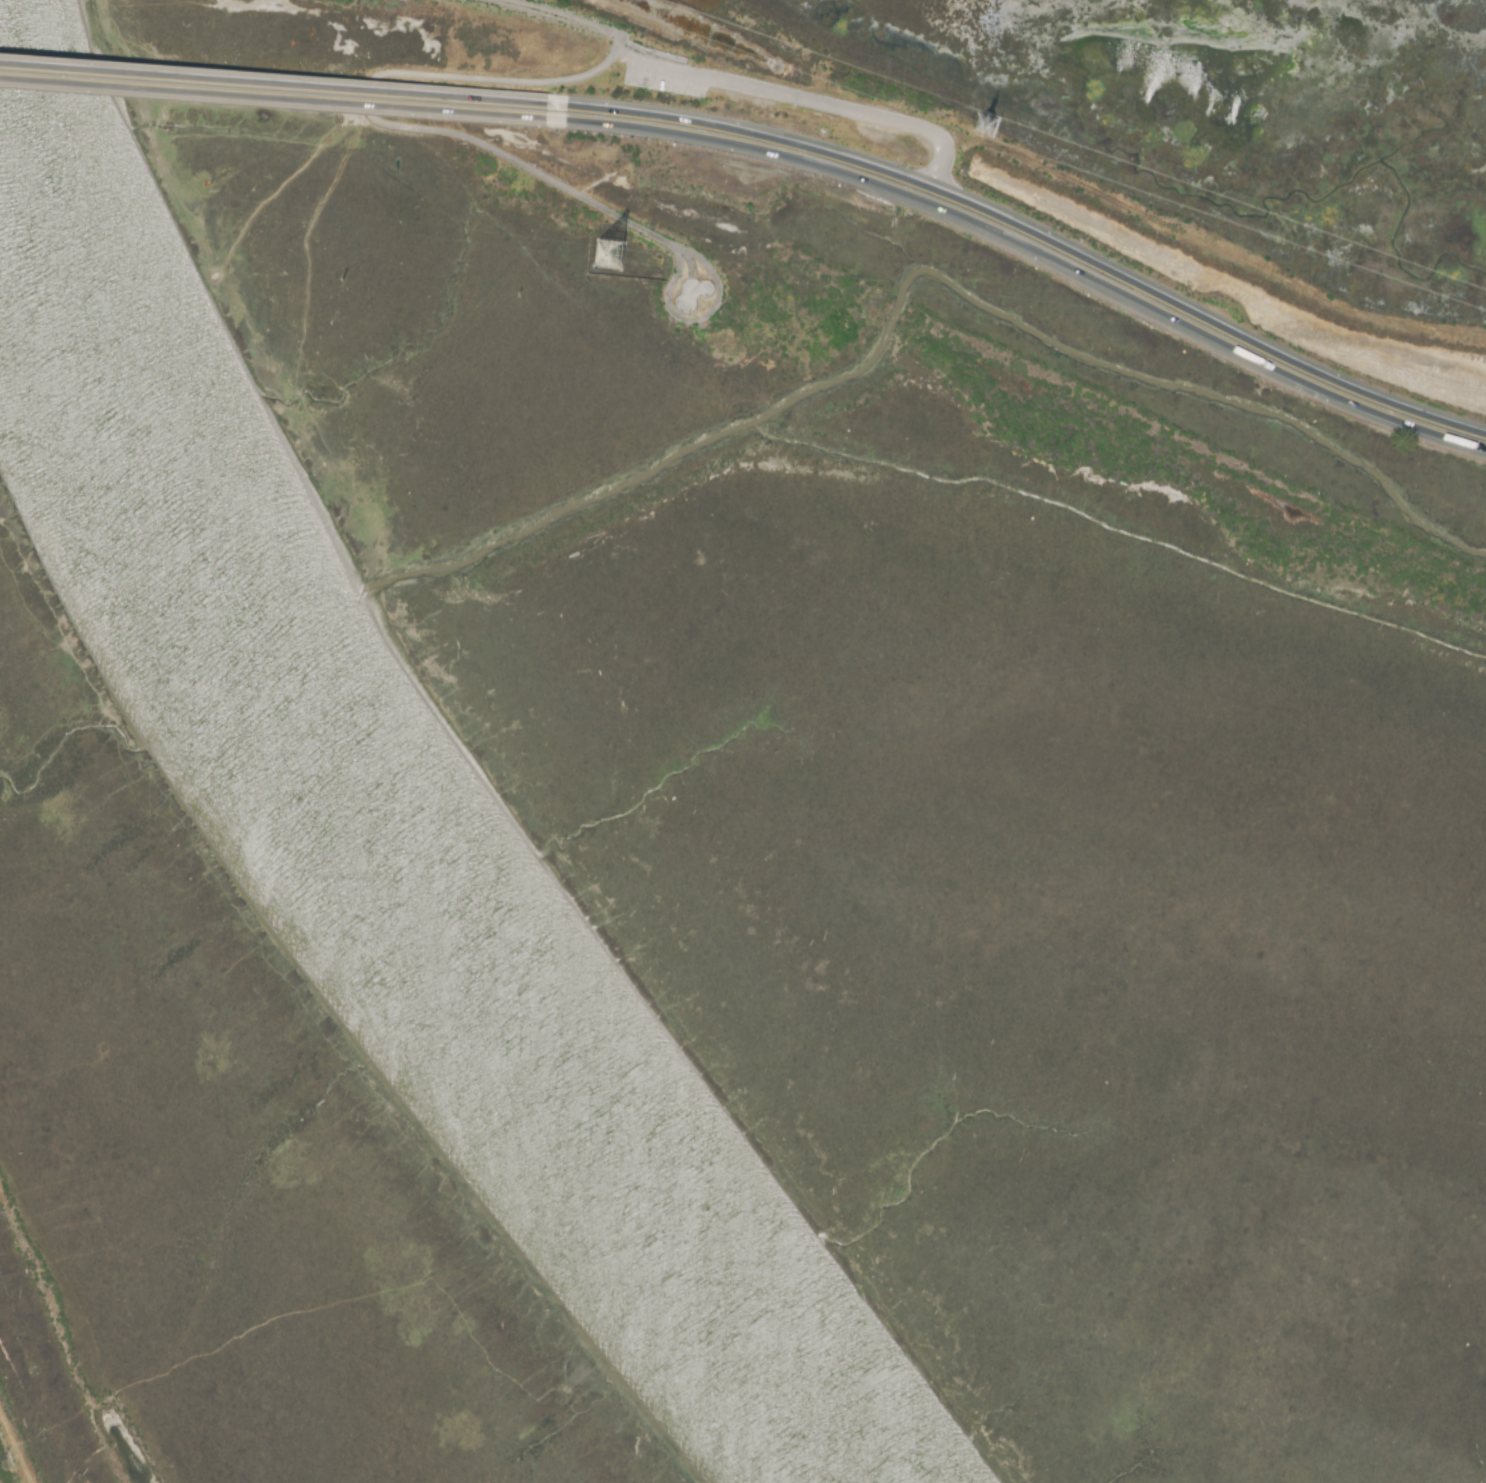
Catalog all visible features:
road: (559, 17)
road: (406, 76)
road: (283, 85)
road: (282, 98)
power tower: (980, 131)
road: (1036, 242)
road: (1035, 257)
power tower: (605, 259)

